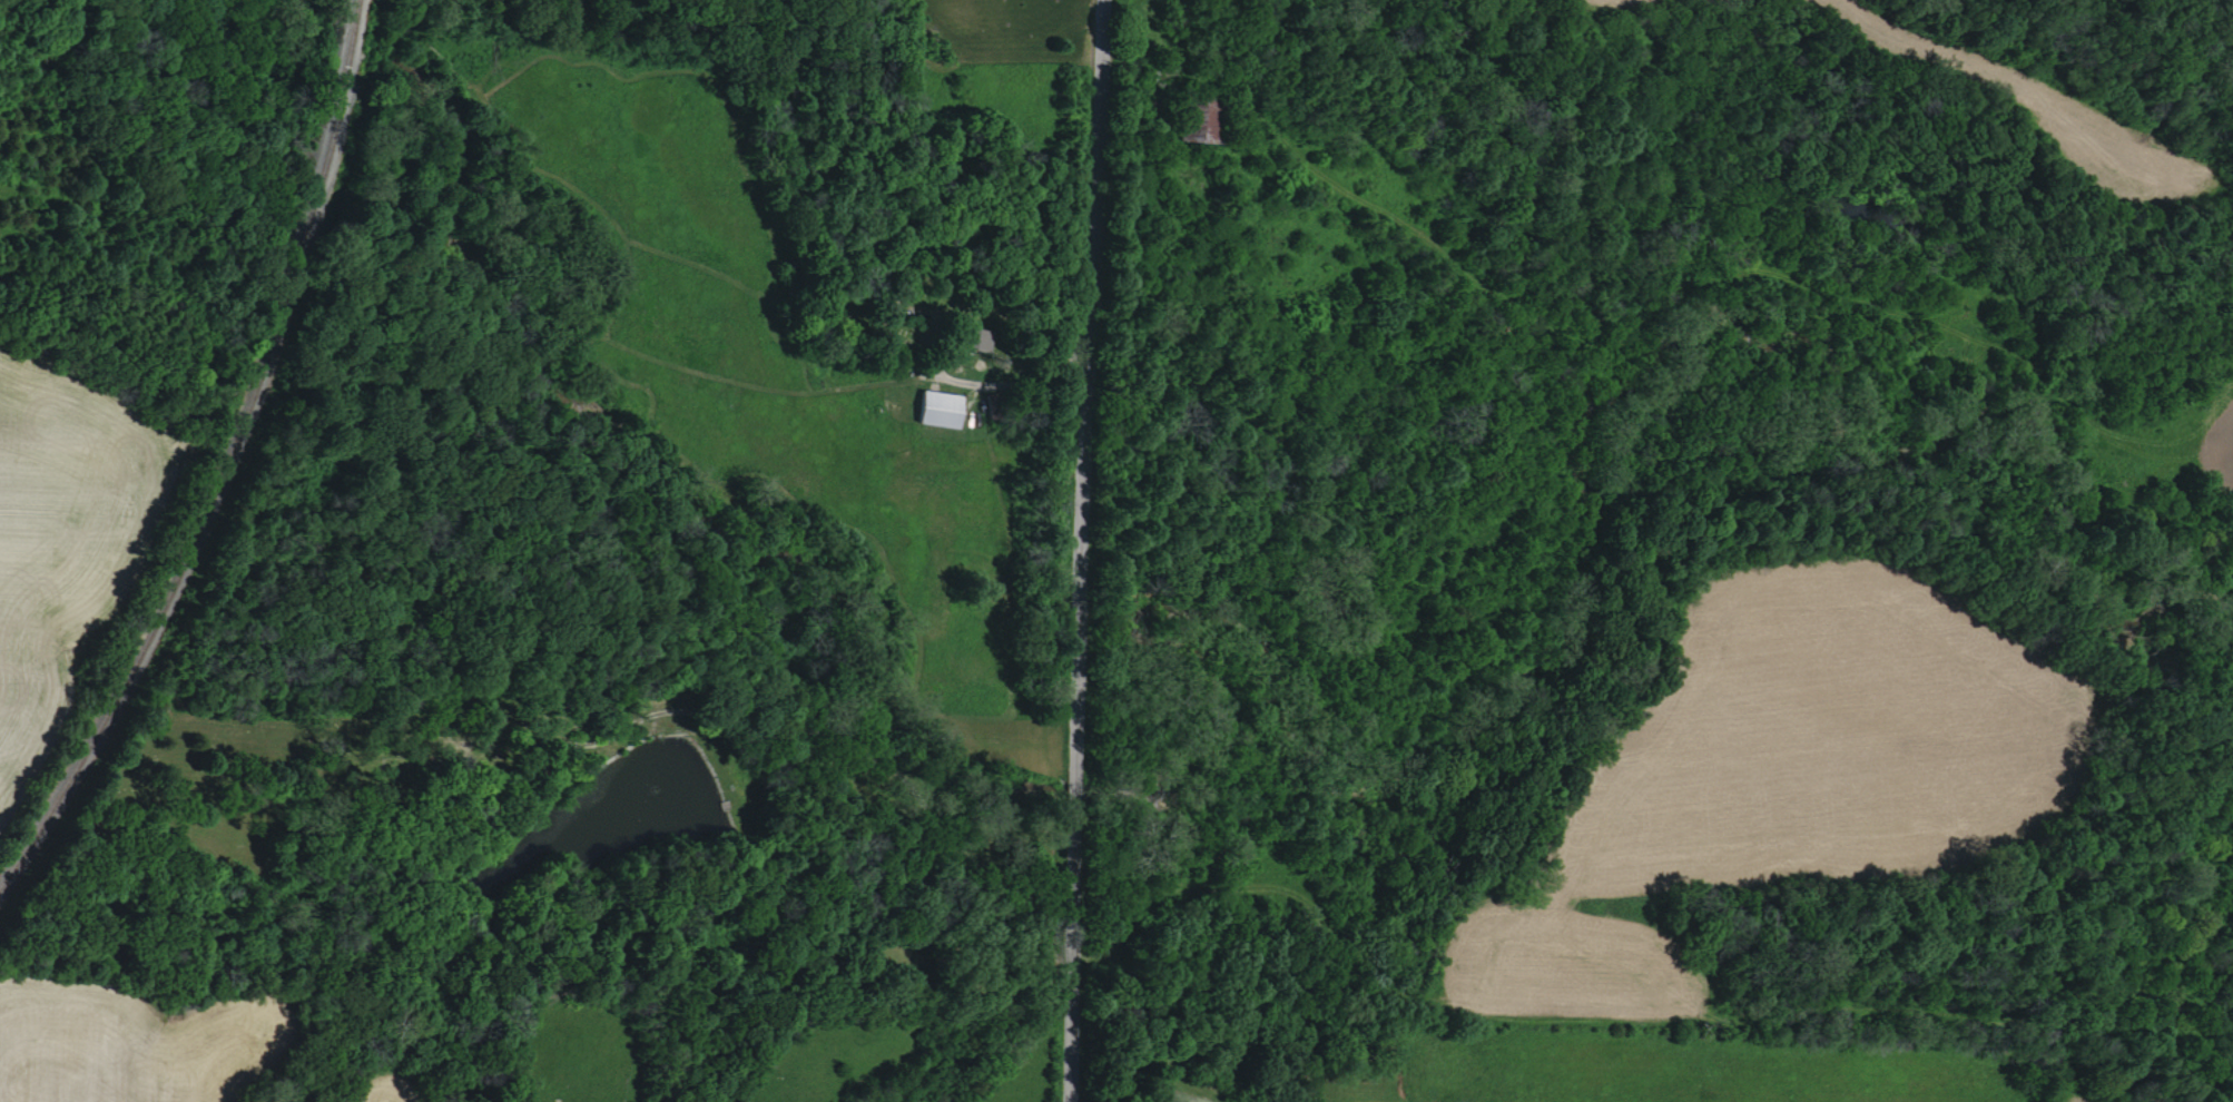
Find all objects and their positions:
building: (984, 338)
road: (1035, 382)
building: (932, 410)
railway: (219, 457)
road: (1089, 551)

